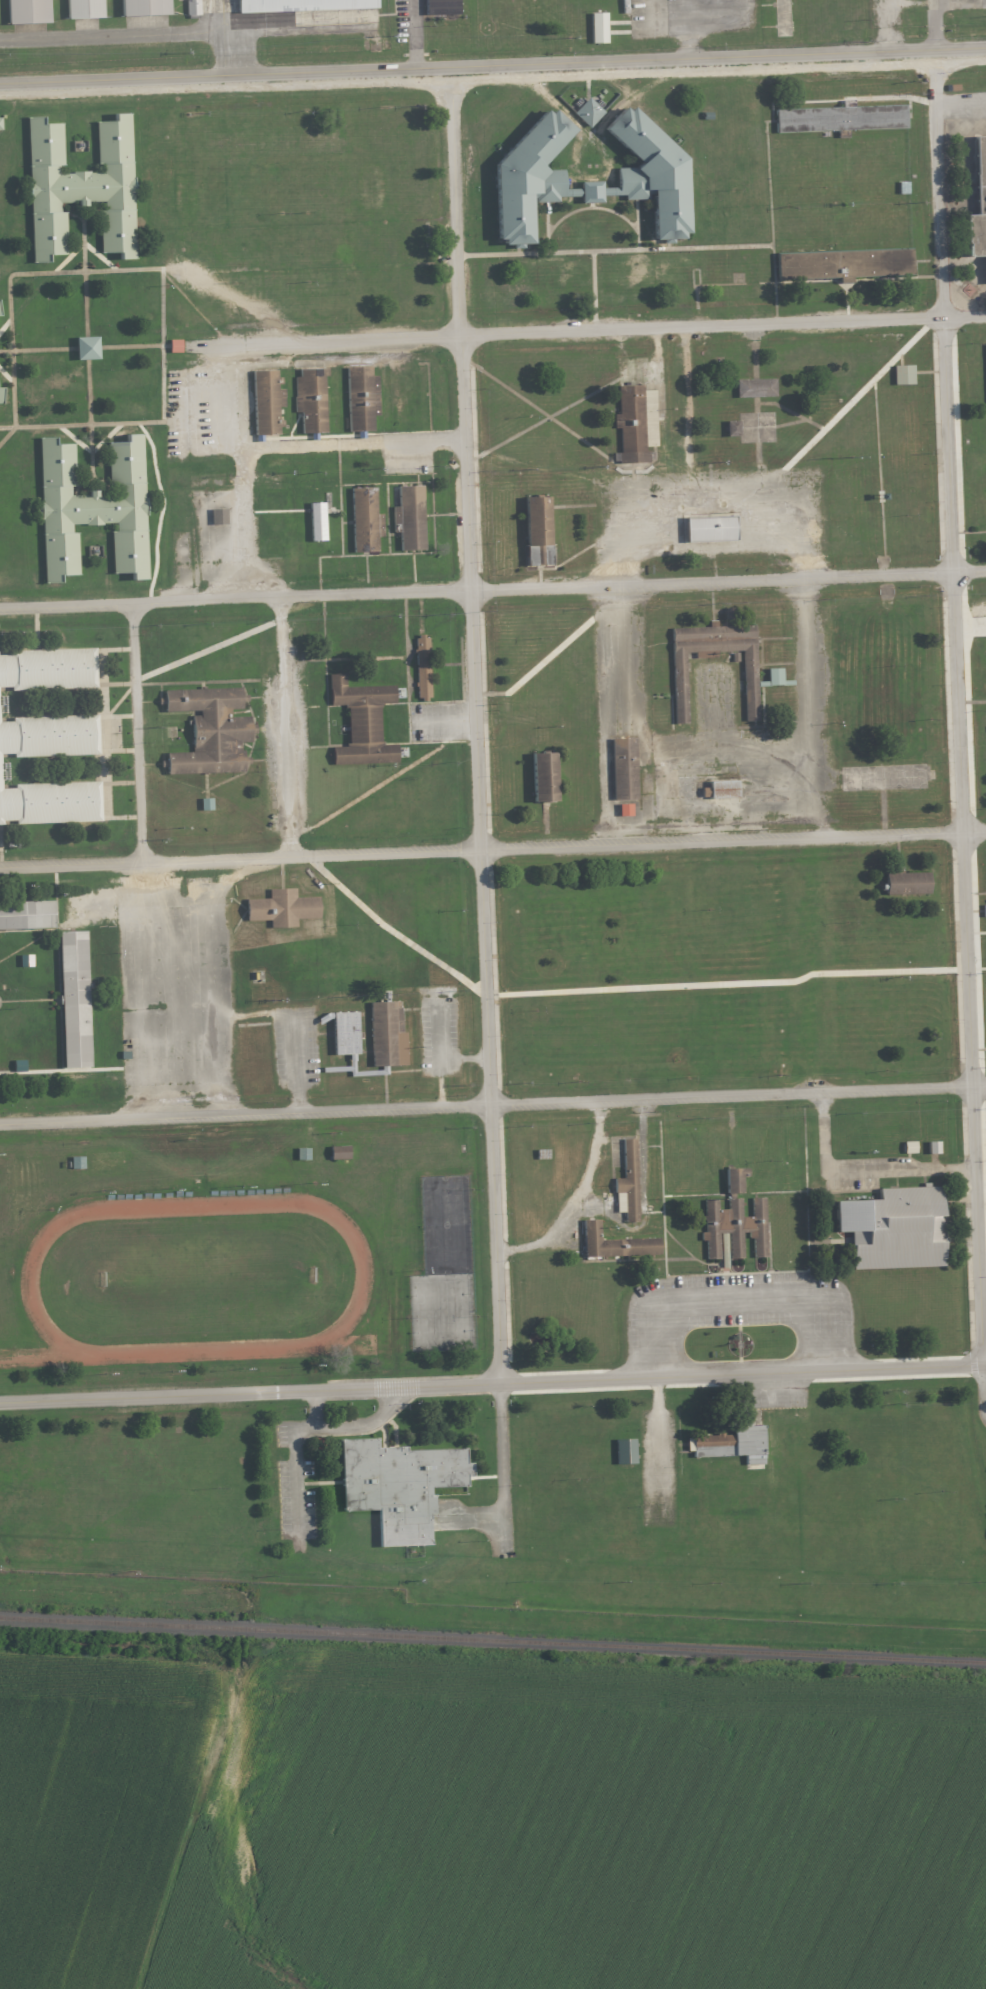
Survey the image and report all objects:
airport taxiway: (221, 5)
airport hangar: (301, 5)
building: (301, 5)
airport hangar: (142, 7)
building: (142, 7)
building: (193, 7)
building: (442, 7)
airport hangar: (82, 8)
building: (82, 8)
airport hangar: (26, 11)
building: (26, 11)
building: (275, 22)
road: (933, 24)
building: (600, 27)
road: (416, 34)
road: (137, 35)
airport: (452, 36)
road: (492, 65)
road: (493, 78)
road: (961, 104)
building: (589, 111)
building: (839, 120)
building: (0, 123)
road: (598, 129)
building: (648, 174)
building: (530, 176)
building: (77, 188)
building: (977, 206)
building: (841, 265)
road: (586, 329)
building: (173, 346)
building: (84, 348)
building: (901, 376)
building: (754, 388)
building: (0, 397)
building: (360, 399)
building: (310, 402)
building: (264, 404)
building: (629, 426)
building: (730, 430)
road: (360, 441)
road: (949, 447)
road: (466, 464)
building: (91, 509)
building: (219, 516)
building: (407, 519)
building: (318, 521)
building: (363, 521)
building: (707, 529)
building: (536, 536)
road: (492, 590)
building: (421, 667)
building: (47, 669)
building: (677, 687)
building: (360, 723)
road: (285, 726)
road: (137, 732)
building: (208, 732)
building: (48, 736)
building: (621, 769)
building: (541, 779)
building: (724, 789)
building: (50, 803)
building: (207, 803)
building: (626, 810)
road: (492, 848)
building: (905, 883)
building: (280, 909)
building: (985, 910)
building: (25, 916)
building: (24, 961)
road: (813, 966)
building: (72, 1000)
building: (344, 1034)
building: (385, 1036)
road: (440, 1050)
road: (465, 1059)
road: (297, 1060)
building: (17, 1066)
road: (974, 1098)
road: (492, 1104)
road: (491, 1115)
building: (935, 1147)
building: (340, 1152)
road: (865, 1173)
building: (627, 1182)
park: (16, 1197)
building: (733, 1222)
building: (892, 1229)
building: (613, 1246)
park: (201, 1280)
track: (27, 1283)
park: (439, 1296)
road: (730, 1298)
park: (441, 1332)
road: (493, 1382)
road: (315, 1409)
road: (309, 1428)
building: (317, 1445)
building: (729, 1446)
building: (623, 1452)
road: (500, 1467)
building: (397, 1488)
railway: (493, 1639)

